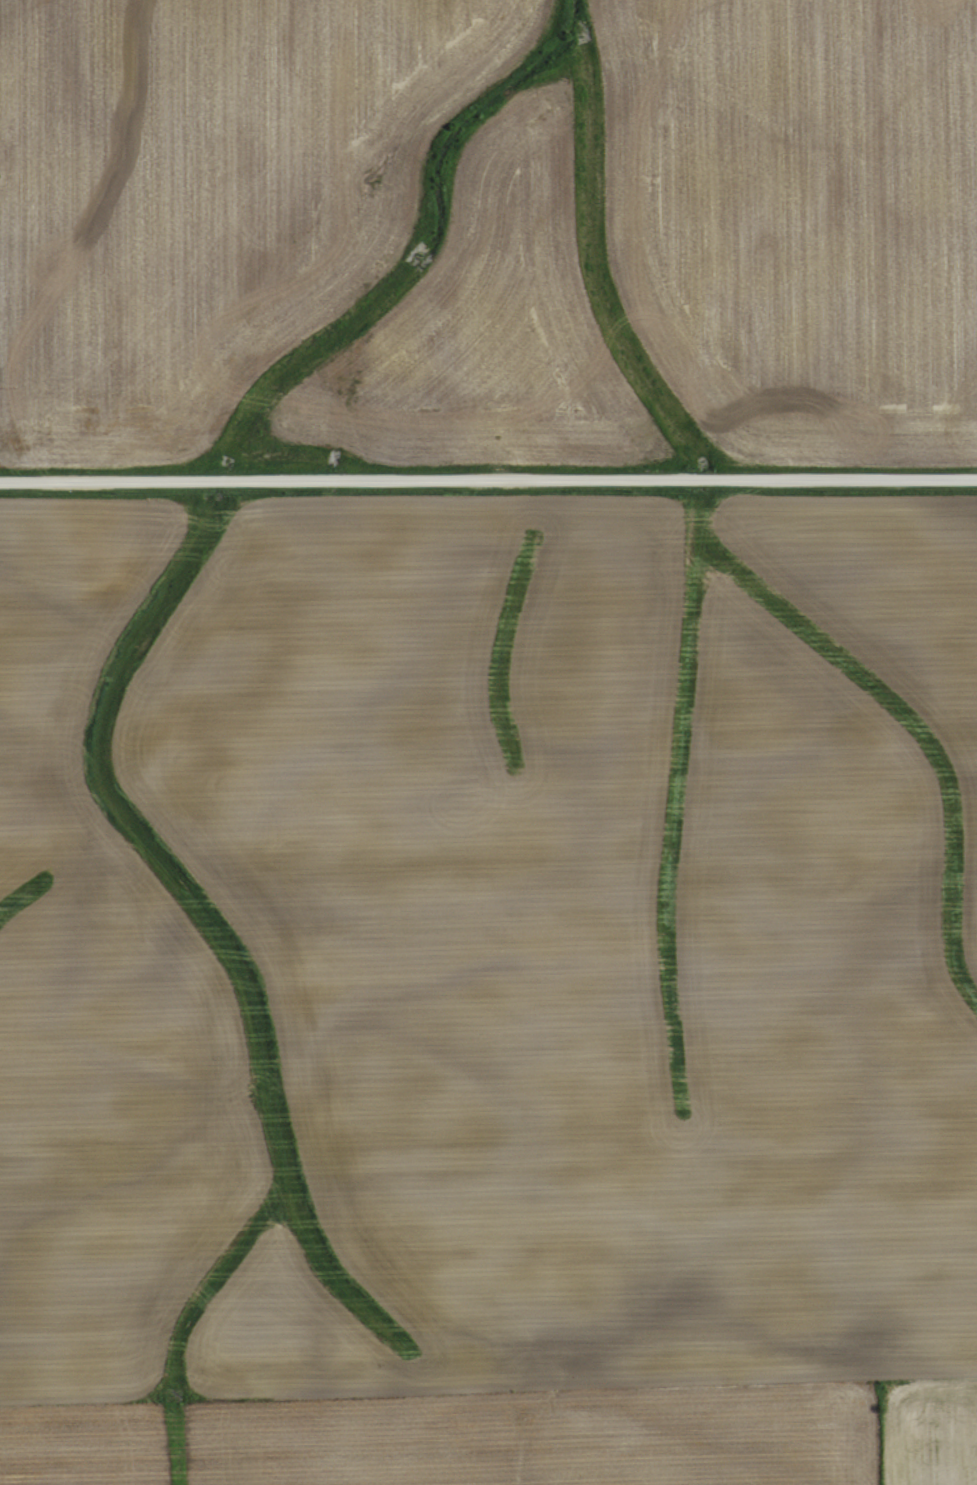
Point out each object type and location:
road: (488, 479)

